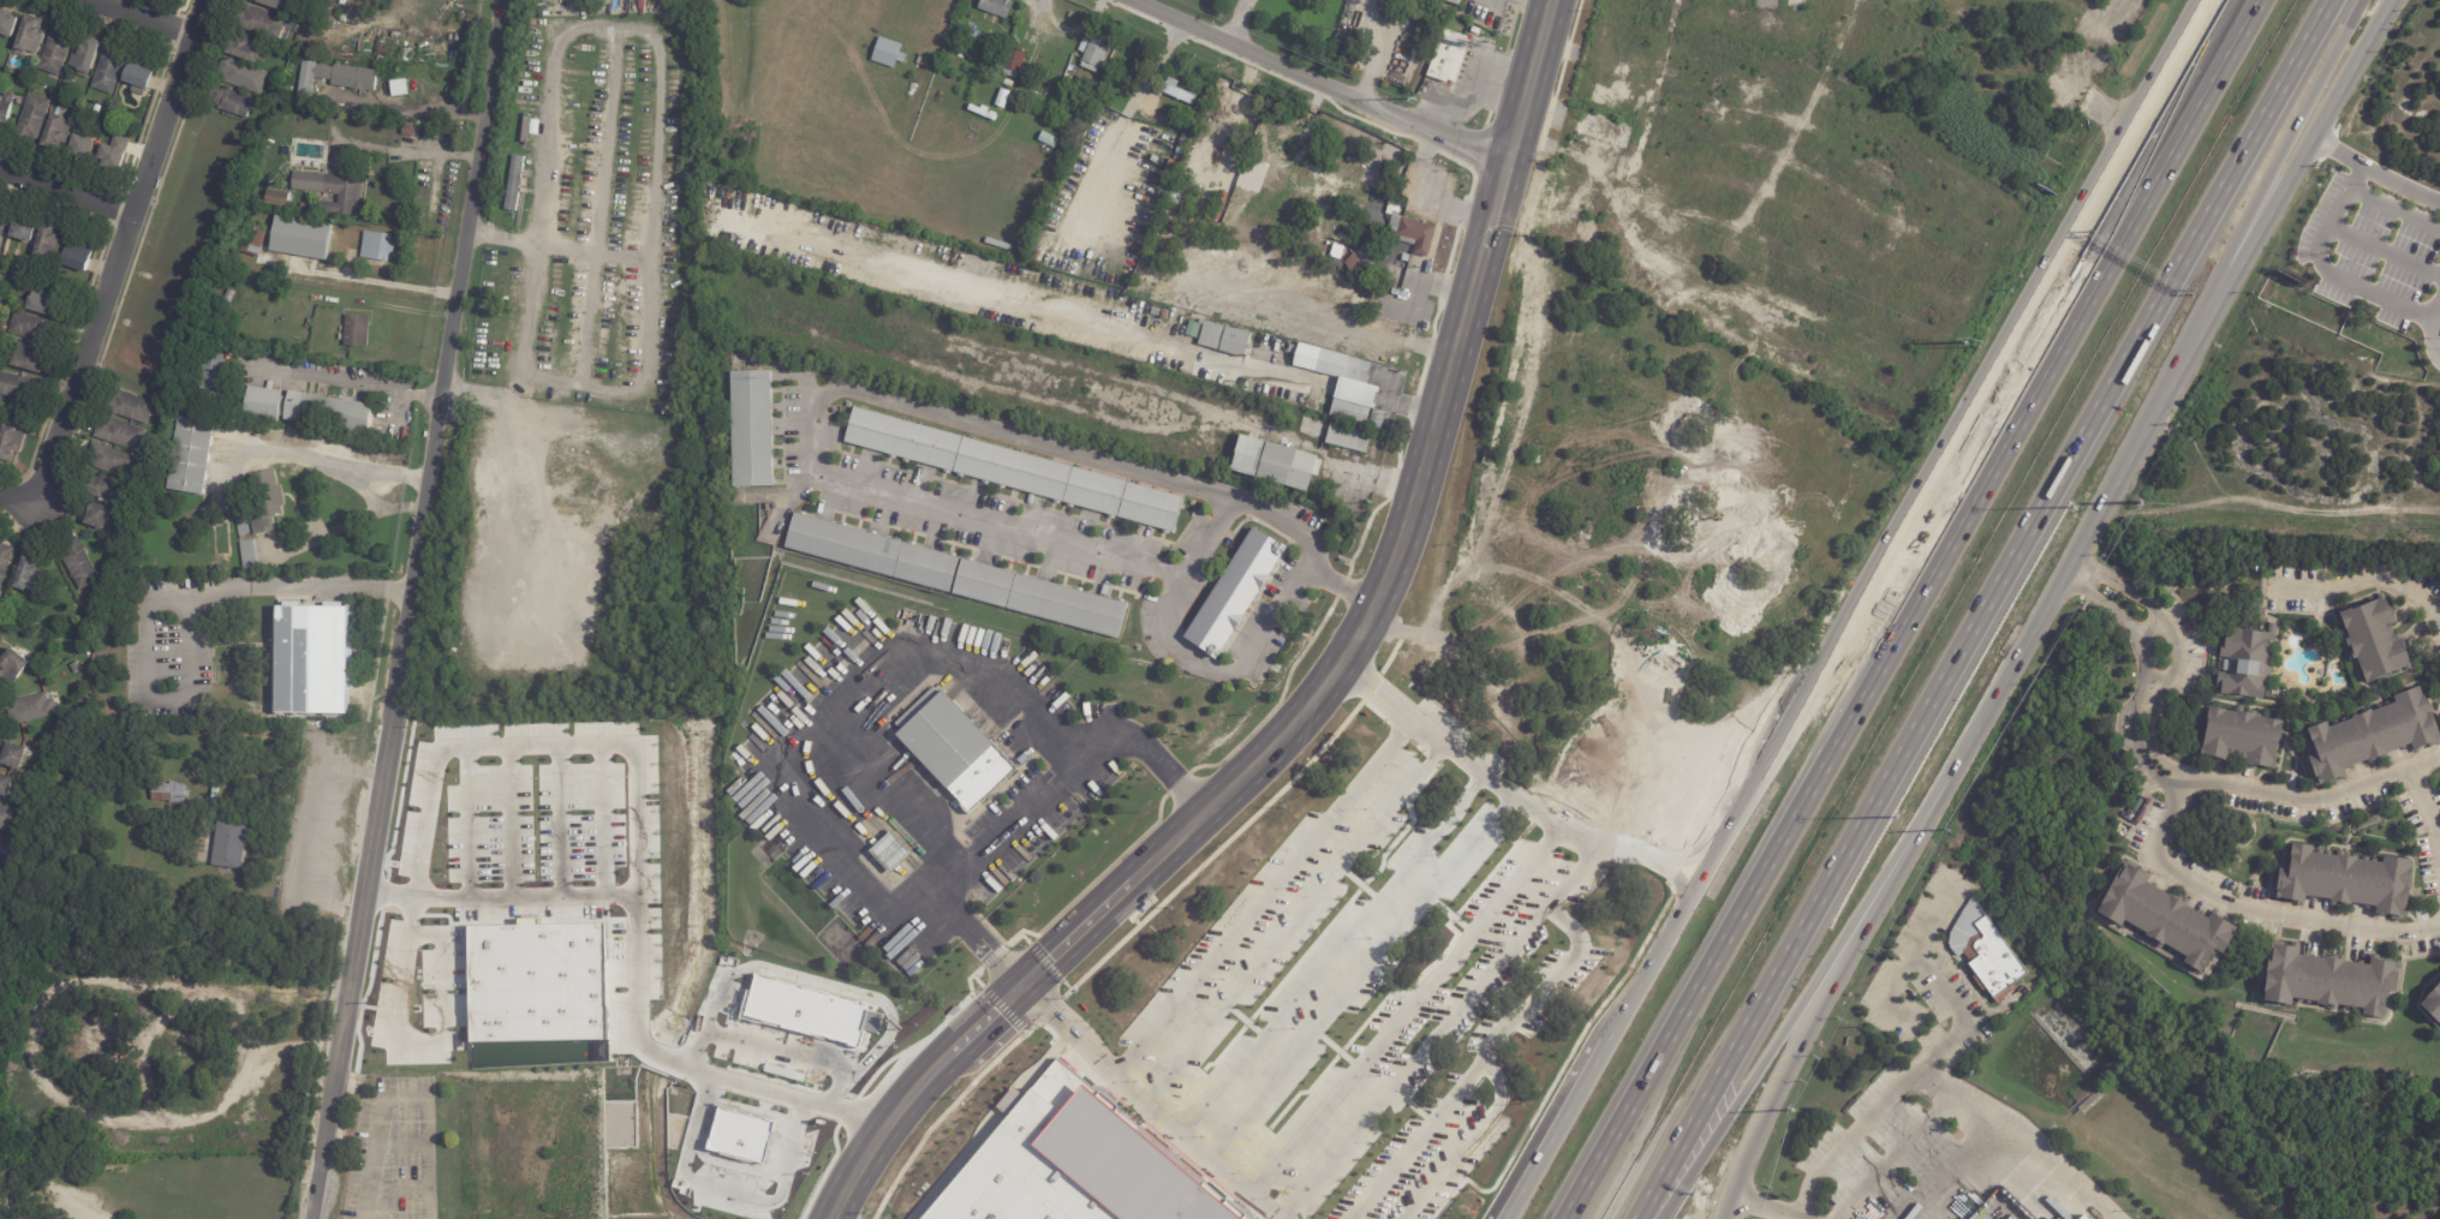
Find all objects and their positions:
building: (1450, 2)
road: (2257, 2)
building: (285, 4)
road: (1533, 5)
building: (996, 6)
road: (1042, 8)
building: (326, 14)
building: (970, 16)
road: (138, 18)
building: (264, 20)
building: (8, 22)
building: (354, 22)
road: (1236, 23)
building: (31, 36)
building: (58, 49)
building: (252, 49)
building: (1096, 49)
building: (290, 52)
building: (887, 53)
road: (1377, 54)
building: (89, 56)
building: (1450, 58)
building: (923, 61)
building: (1013, 62)
road: (1478, 67)
building: (113, 68)
building: (142, 73)
building: (247, 74)
building: (1082, 76)
building: (338, 77)
building: (70, 82)
building: (1007, 83)
building: (402, 86)
building: (1176, 91)
road: (1499, 94)
power tower: (1414, 95)
building: (998, 96)
building: (237, 101)
road: (1442, 101)
building: (6, 109)
building: (35, 118)
building: (411, 129)
building: (60, 131)
building: (1044, 138)
building: (1182, 141)
building: (86, 147)
road: (657, 147)
building: (117, 151)
road: (2375, 171)
building: (1167, 173)
road: (2287, 178)
building: (513, 185)
building: (335, 191)
road: (1585, 192)
road: (65, 193)
building: (284, 198)
road: (1424, 202)
road: (2393, 205)
building: (308, 207)
road: (601, 208)
building: (1376, 214)
building: (2, 225)
building: (26, 228)
building: (352, 233)
building: (1413, 233)
road: (1492, 233)
building: (303, 238)
building: (250, 239)
building: (50, 240)
building: (901, 241)
building: (914, 244)
building: (380, 246)
road: (2382, 250)
road: (593, 251)
building: (79, 253)
parking lot: (2364, 253)
building: (1337, 263)
building: (1353, 263)
road: (113, 267)
building: (17, 270)
road: (2321, 270)
building: (233, 297)
building: (48, 301)
road: (1069, 307)
building: (216, 316)
road: (2429, 325)
building: (34, 327)
building: (359, 330)
power tower: (1964, 341)
building: (1222, 342)
building: (31, 358)
building: (217, 361)
building: (1340, 381)
road: (342, 383)
building: (217, 384)
building: (18, 386)
road: (842, 386)
road: (1356, 393)
road: (487, 398)
building: (266, 405)
building: (135, 407)
road: (1415, 408)
building: (333, 411)
building: (1, 416)
building: (1377, 418)
building: (751, 429)
building: (125, 435)
building: (1347, 438)
building: (13, 443)
building: (153, 450)
building: (195, 456)
building: (115, 460)
road: (327, 464)
building: (1273, 464)
road: (1934, 467)
building: (1012, 468)
building: (112, 489)
road: (363, 494)
power tower: (2138, 501)
building: (268, 507)
road: (399, 507)
building: (106, 516)
road: (329, 532)
building: (870, 552)
building: (252, 557)
building: (6, 563)
building: (83, 563)
building: (219, 569)
building: (31, 574)
road: (2364, 584)
building: (1233, 593)
building: (1039, 598)
road: (160, 600)
building: (4, 602)
road: (396, 608)
road: (1911, 609)
road: (1981, 609)
road: (2148, 621)
road: (2173, 632)
building: (2376, 641)
road: (2141, 655)
building: (315, 661)
building: (2247, 664)
building: (14, 667)
road: (1228, 673)
railway: (1336, 681)
road: (2156, 683)
building: (35, 710)
road: (840, 712)
road: (524, 729)
building: (2374, 737)
building: (2243, 739)
building: (954, 749)
road: (1265, 755)
building: (20, 757)
road: (2176, 764)
road: (2160, 782)
road: (1946, 784)
building: (8, 785)
building: (172, 793)
road: (2319, 797)
road: (605, 803)
road: (518, 805)
road: (568, 805)
road: (477, 806)
road: (2428, 806)
road: (1025, 813)
building: (7, 818)
building: (2369, 824)
road: (1581, 827)
power tower: (1949, 829)
building: (234, 847)
road: (1693, 849)
building: (889, 854)
road: (1674, 865)
road: (1577, 870)
building: (2347, 883)
road: (1263, 894)
road: (2245, 908)
road: (1293, 916)
building: (2167, 921)
road: (1331, 948)
road: (1833, 948)
building: (1994, 960)
building: (537, 969)
road: (1353, 979)
parking lot: (1378, 979)
road: (1941, 981)
building: (2331, 984)
road: (1893, 987)
road: (1407, 1005)
building: (2433, 1006)
road: (1484, 1046)
road: (702, 1056)
road: (1416, 1058)
road: (1582, 1076)
road: (399, 1096)
road: (925, 1099)
power tower: (1792, 1110)
road: (1853, 1134)
road: (2018, 1135)
road: (1470, 1136)
parking lot: (396, 1152)
parking lot: (1872, 1152)
road: (1893, 1154)
building: (1078, 1161)
road: (1945, 1169)
road: (1243, 1185)
building: (2004, 1206)
road: (1766, 1208)
road: (94, 1214)
building: (2087, 1217)
road: (1802, 1218)
building: (2081, 1218)

